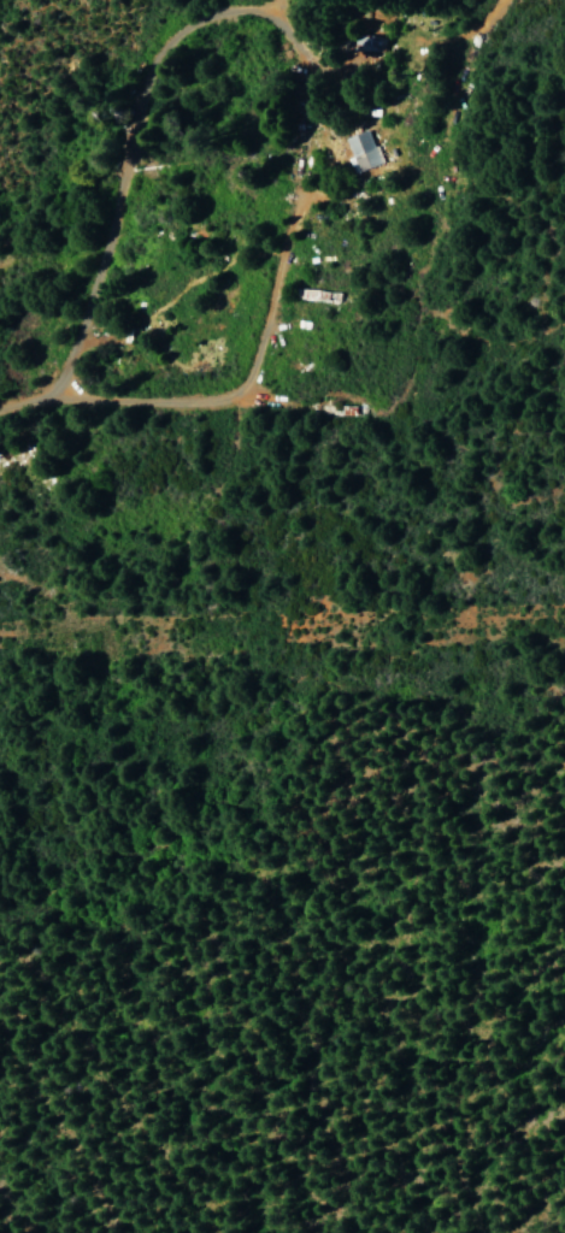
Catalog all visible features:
building: (358, 152)

